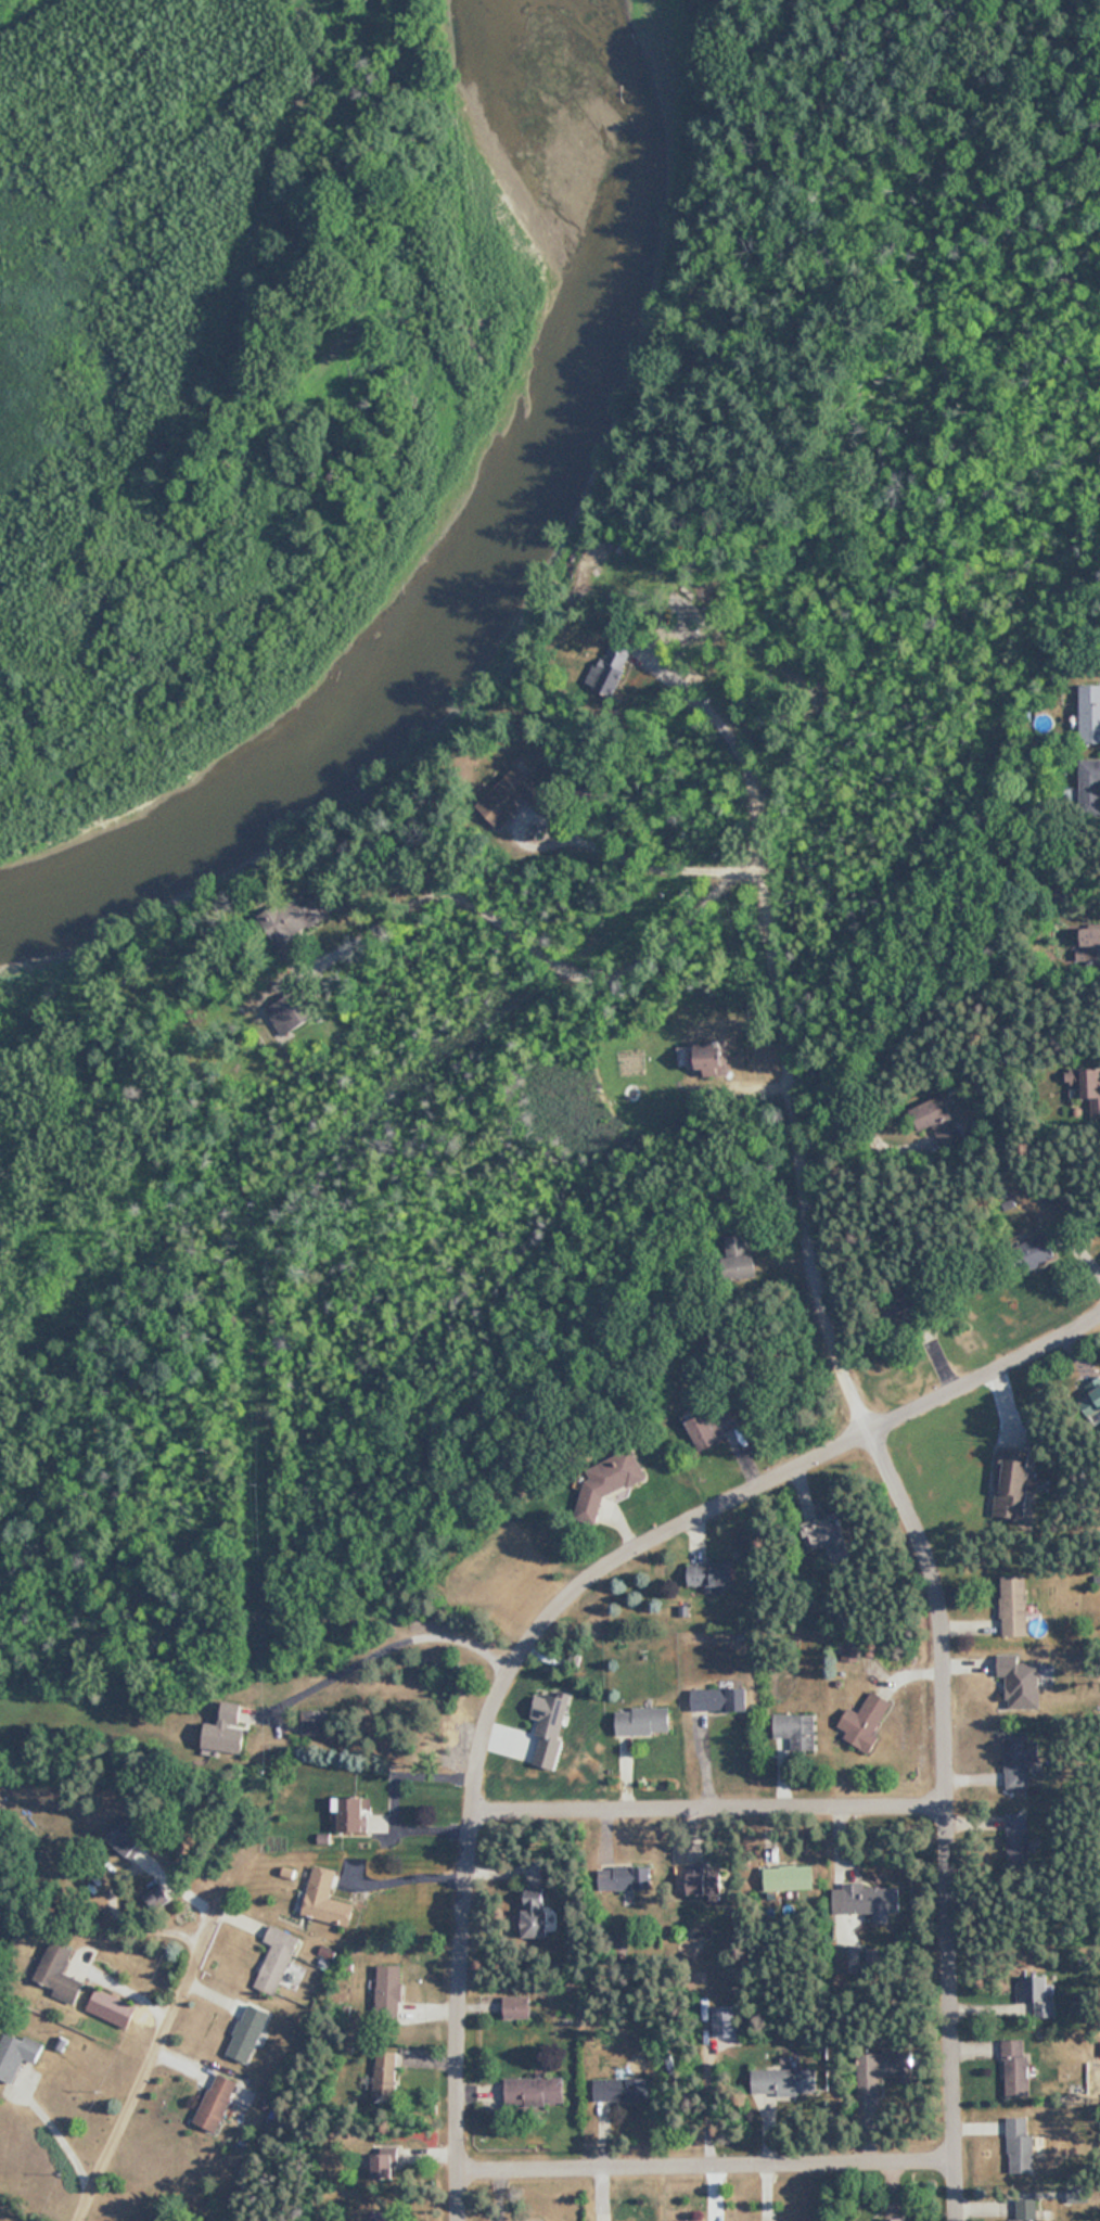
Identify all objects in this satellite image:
river: (449, 553)
building: (613, 663)
building: (1090, 713)
road: (733, 742)
building: (1089, 782)
building: (516, 795)
road: (592, 844)
building: (295, 916)
building: (1090, 936)
road: (524, 944)
building: (290, 1012)
building: (704, 1058)
building: (1084, 1082)
building: (934, 1119)
building: (1038, 1251)
building: (738, 1254)
building: (1092, 1399)
building: (713, 1426)
building: (1013, 1481)
building: (607, 1482)
road: (920, 1532)
building: (824, 1533)
building: (712, 1575)
building: (1014, 1605)
road: (543, 1607)
road: (382, 1635)
building: (1021, 1681)
building: (720, 1700)
building: (865, 1721)
building: (315, 1722)
building: (643, 1722)
building: (226, 1728)
building: (796, 1729)
building: (1018, 1757)
road: (711, 1807)
building: (353, 1813)
building: (1018, 1828)
building: (132, 1836)
building: (625, 1878)
building: (789, 1878)
building: (704, 1880)
building: (327, 1899)
building: (872, 1900)
building: (536, 1915)
building: (276, 1958)
building: (60, 1974)
building: (388, 1990)
building: (1041, 1999)
building: (112, 2008)
building: (248, 2032)
road: (149, 2053)
building: (17, 2054)
building: (887, 2066)
building: (1015, 2068)
building: (385, 2077)
building: (784, 2082)
building: (621, 2090)
building: (535, 2091)
building: (216, 2103)
road: (50, 2129)
building: (1022, 2150)
road: (709, 2163)
building: (383, 2167)
building: (383, 2216)
building: (156, 2219)
building: (893, 2219)
building: (1028, 2220)

